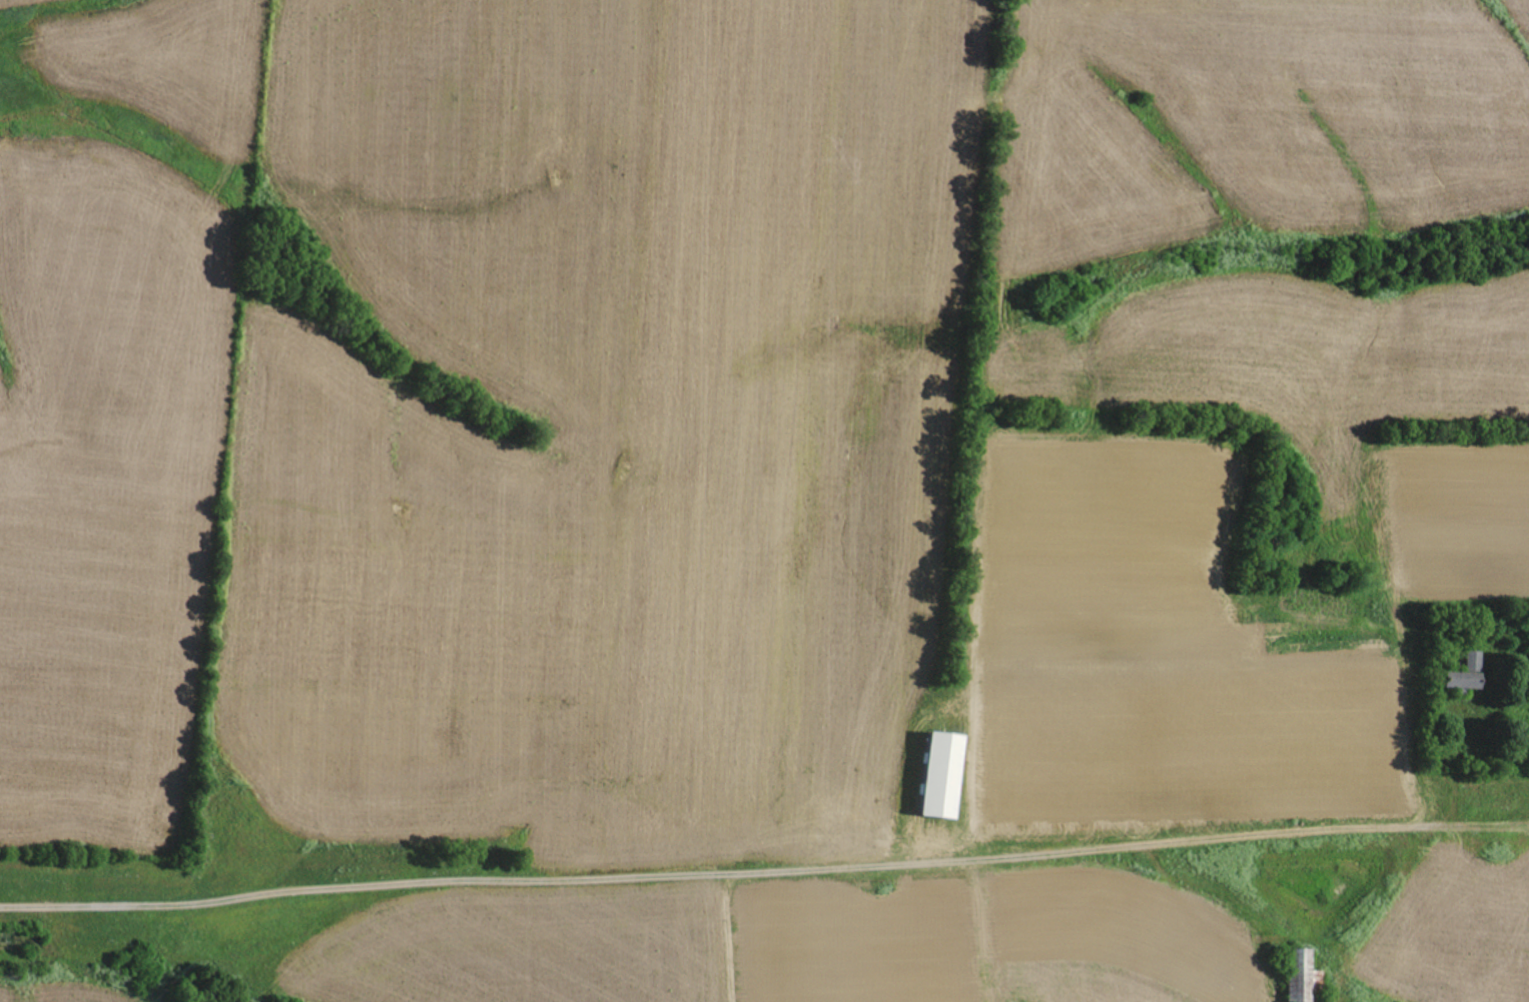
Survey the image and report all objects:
building: (1456, 672)
building: (928, 775)
building: (1297, 975)

